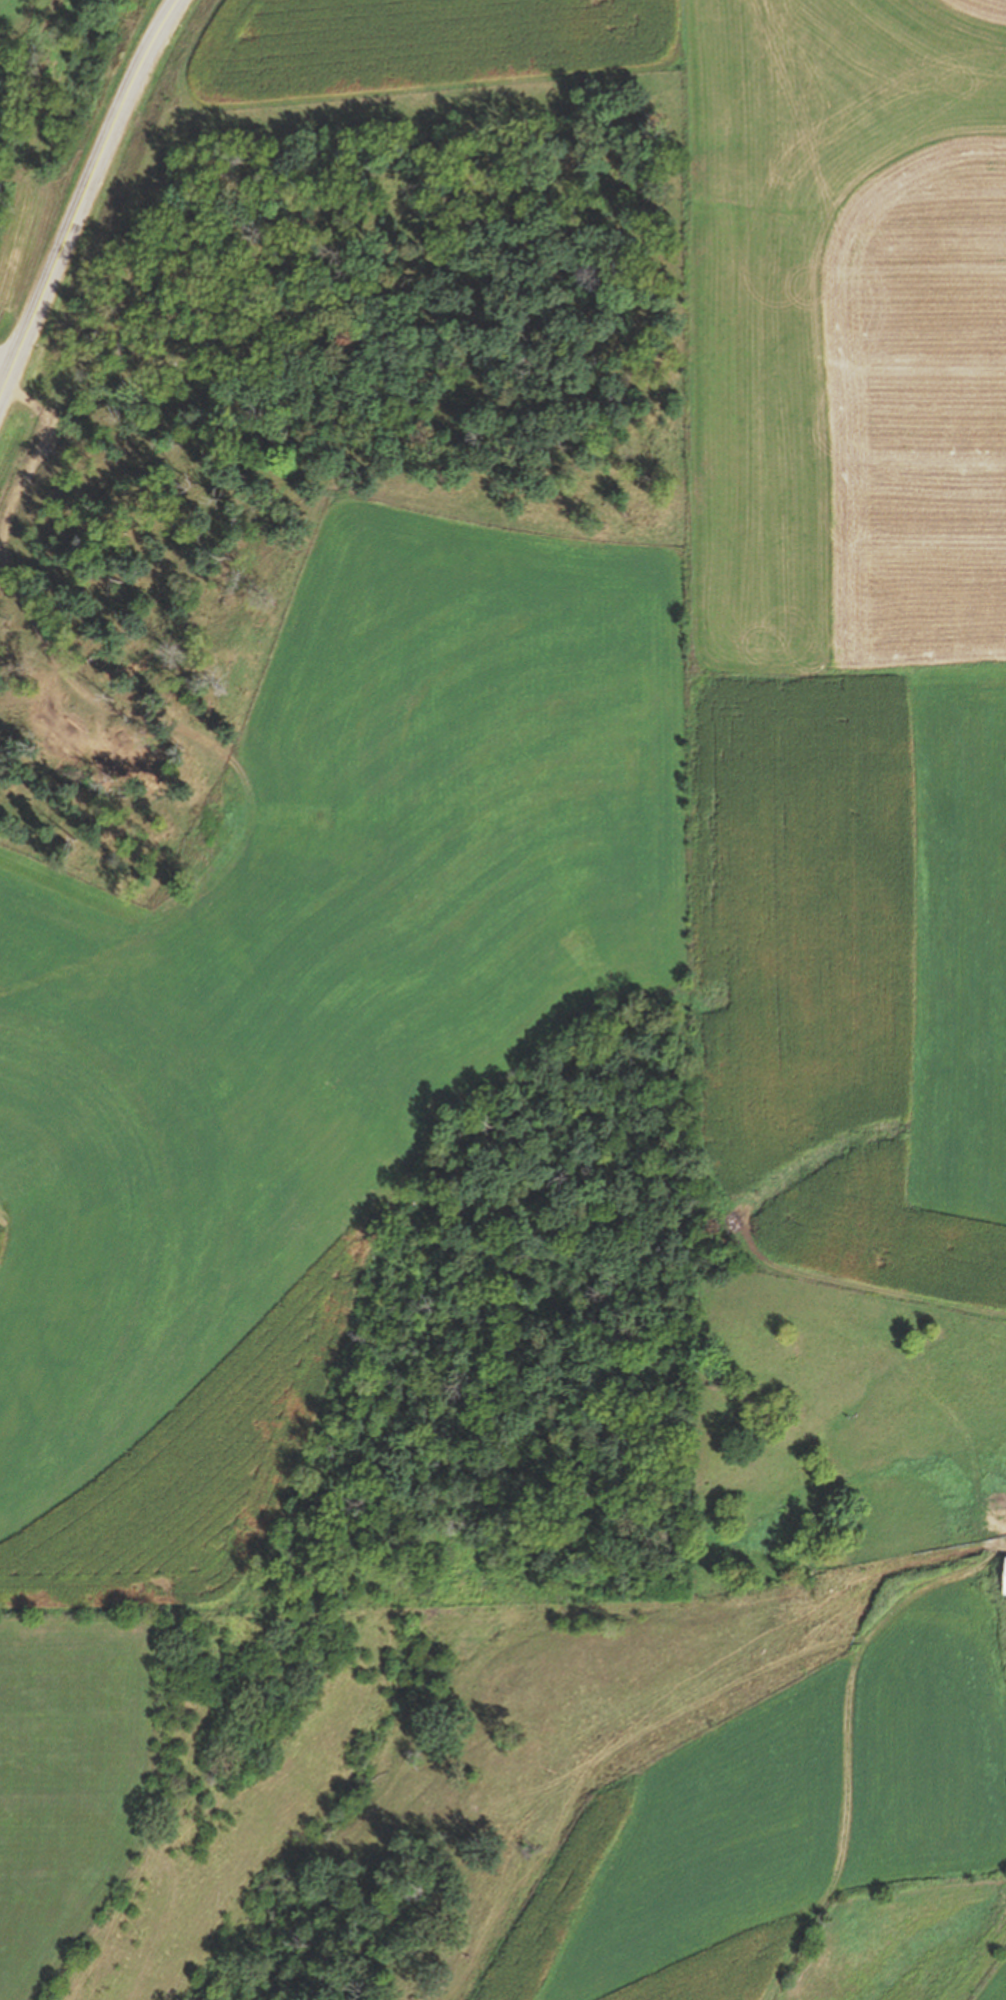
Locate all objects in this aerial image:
road: (89, 203)
road: (18, 336)
building: (1004, 1579)

